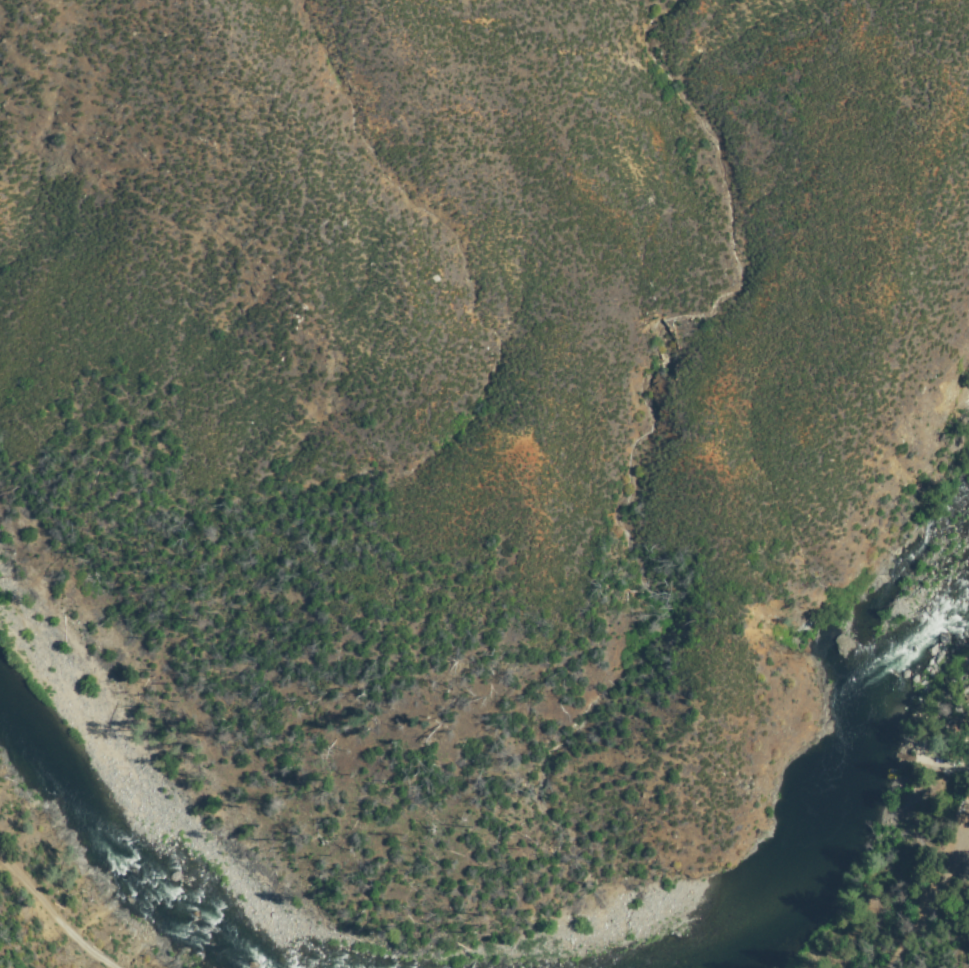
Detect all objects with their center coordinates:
river: (840, 777)
river: (145, 835)
road: (931, 897)
road: (52, 917)

